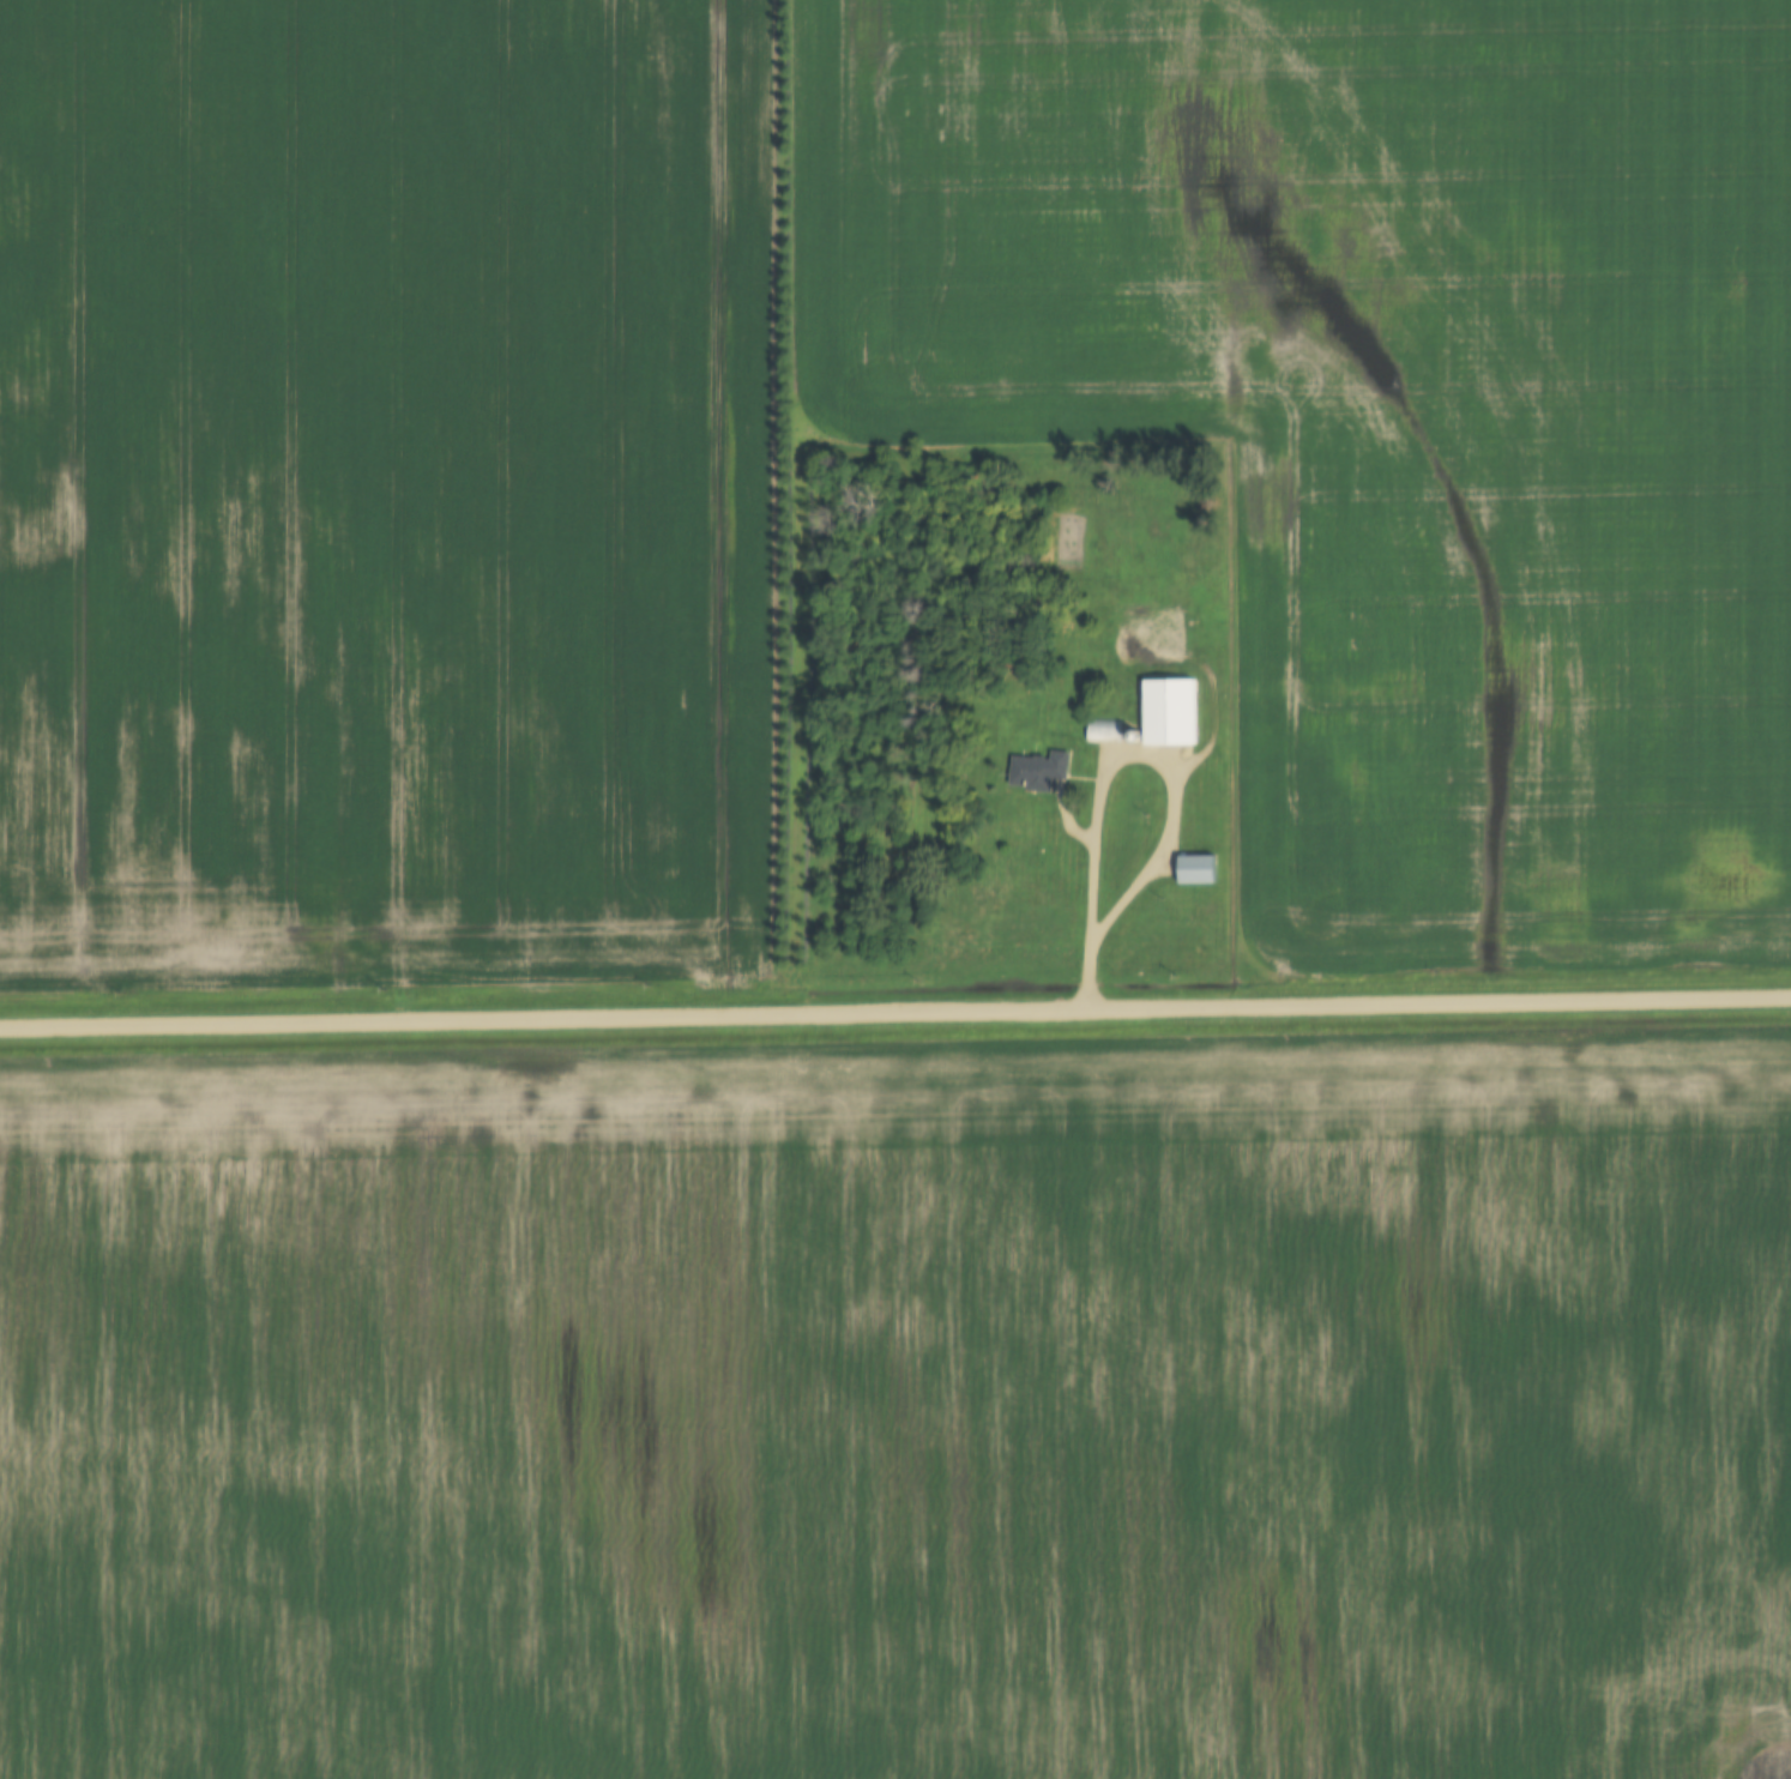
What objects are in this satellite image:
building: (1175, 714)
road: (1123, 767)
building: (1041, 773)
building: (1204, 872)
road: (894, 1017)

